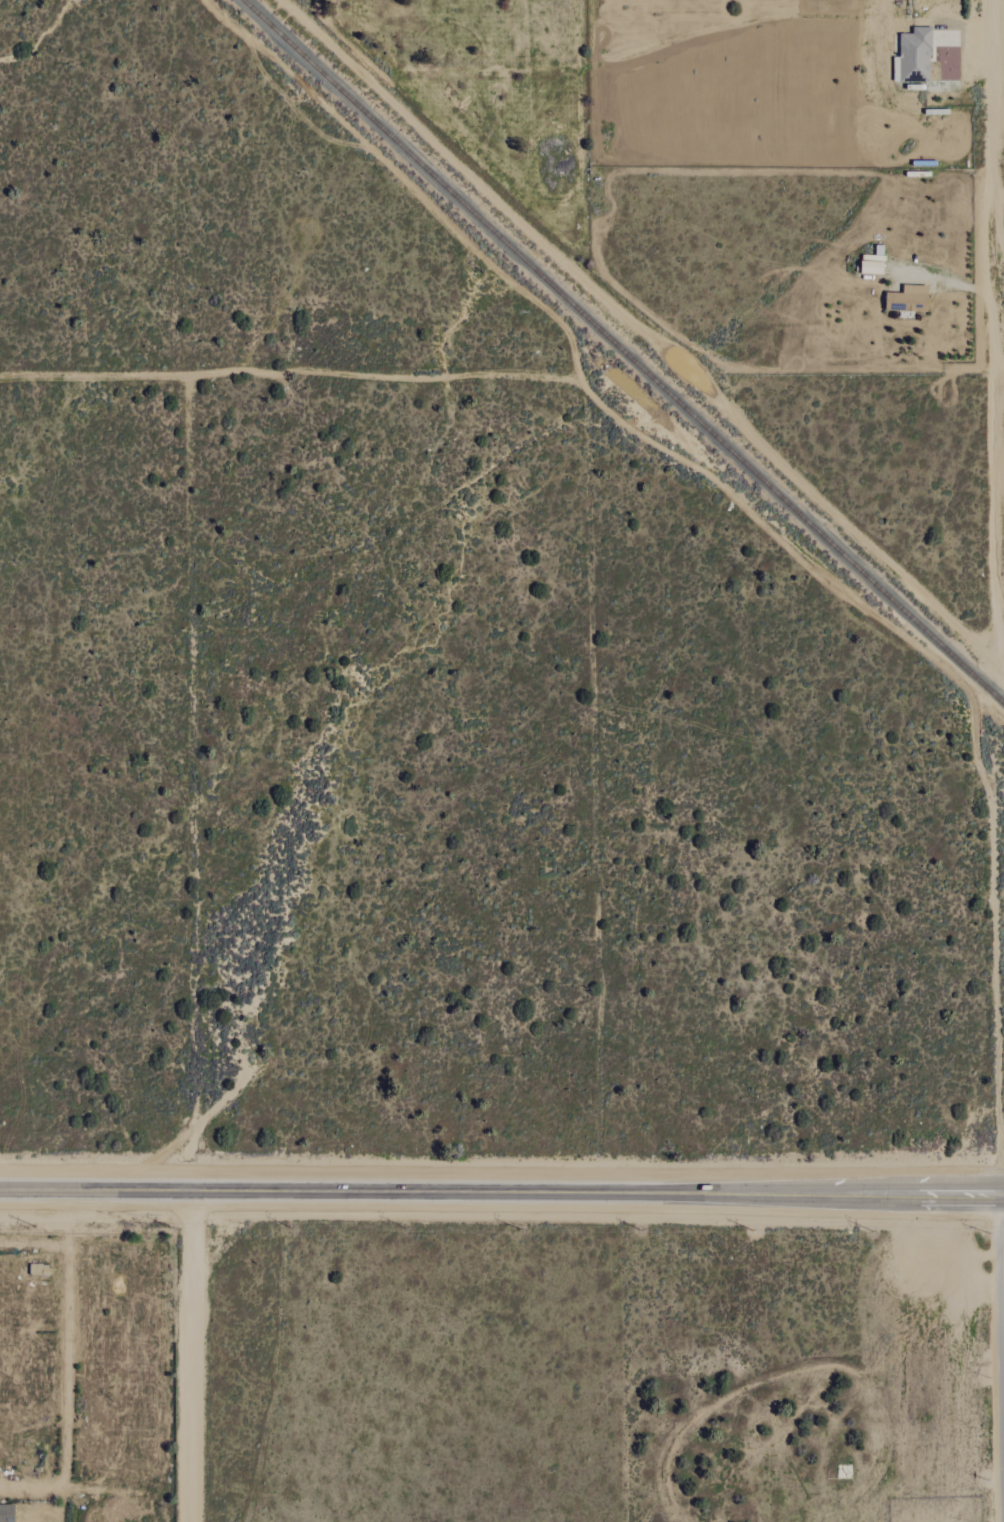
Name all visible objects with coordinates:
road: (968, 31)
building: (914, 57)
road: (294, 108)
road: (408, 185)
road: (999, 199)
road: (999, 257)
building: (872, 264)
road: (943, 280)
building: (908, 299)
road: (994, 333)
railway: (625, 350)
road: (491, 376)
road: (999, 382)
road: (970, 696)
road: (996, 993)
road: (501, 1192)
road: (192, 1356)
road: (1003, 1450)

